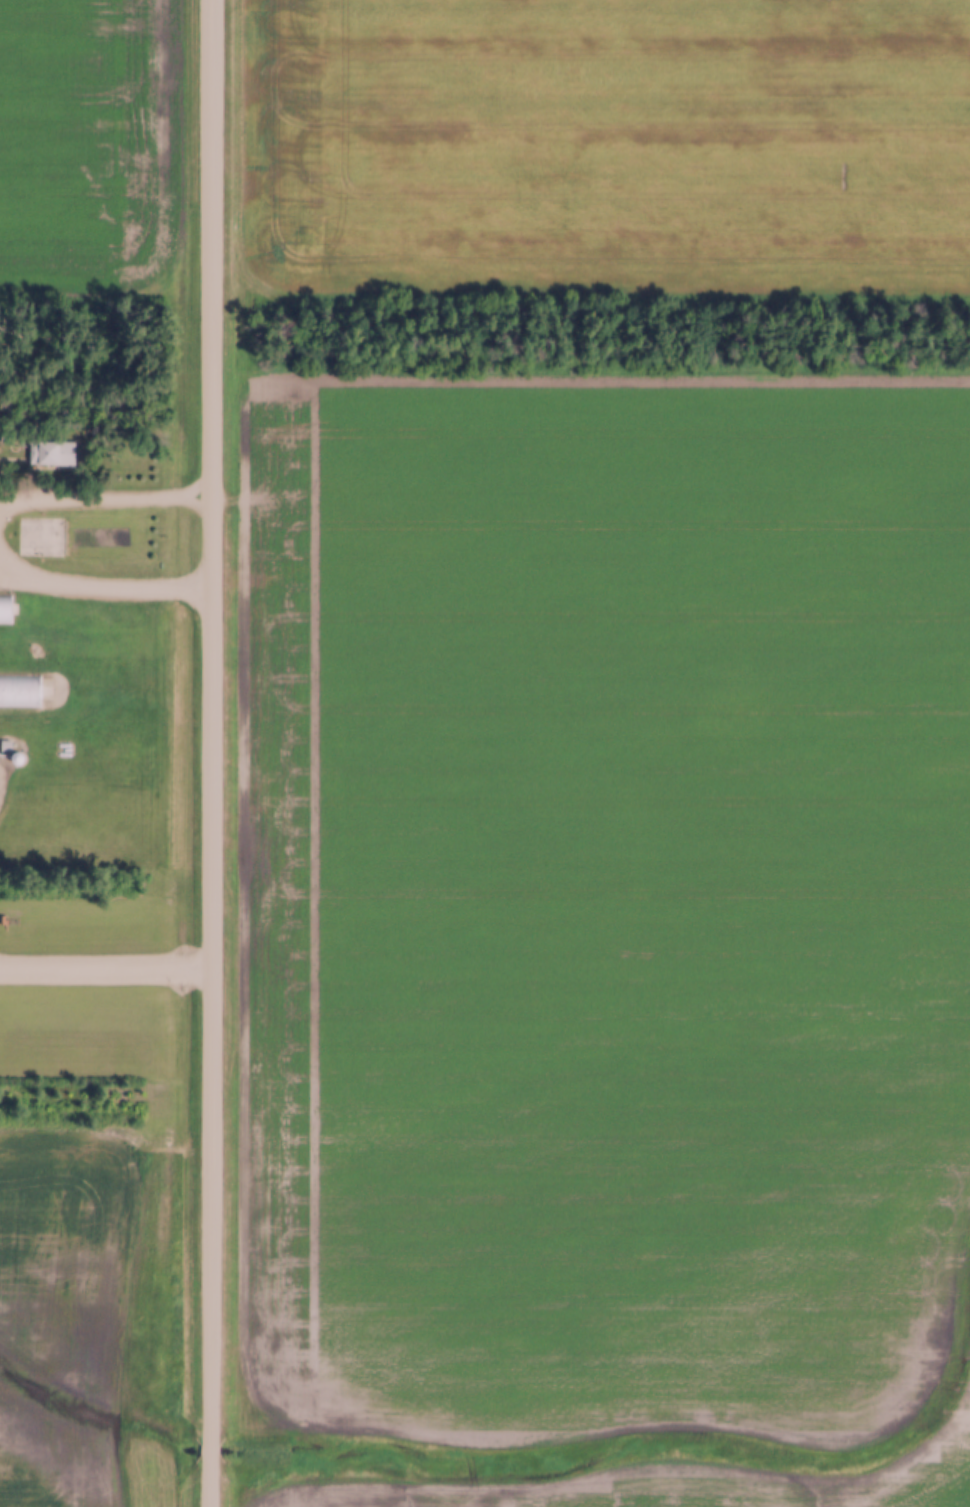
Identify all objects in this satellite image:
building: (50, 452)
road: (103, 502)
building: (29, 534)
road: (95, 590)
building: (5, 607)
building: (19, 690)
road: (211, 753)

